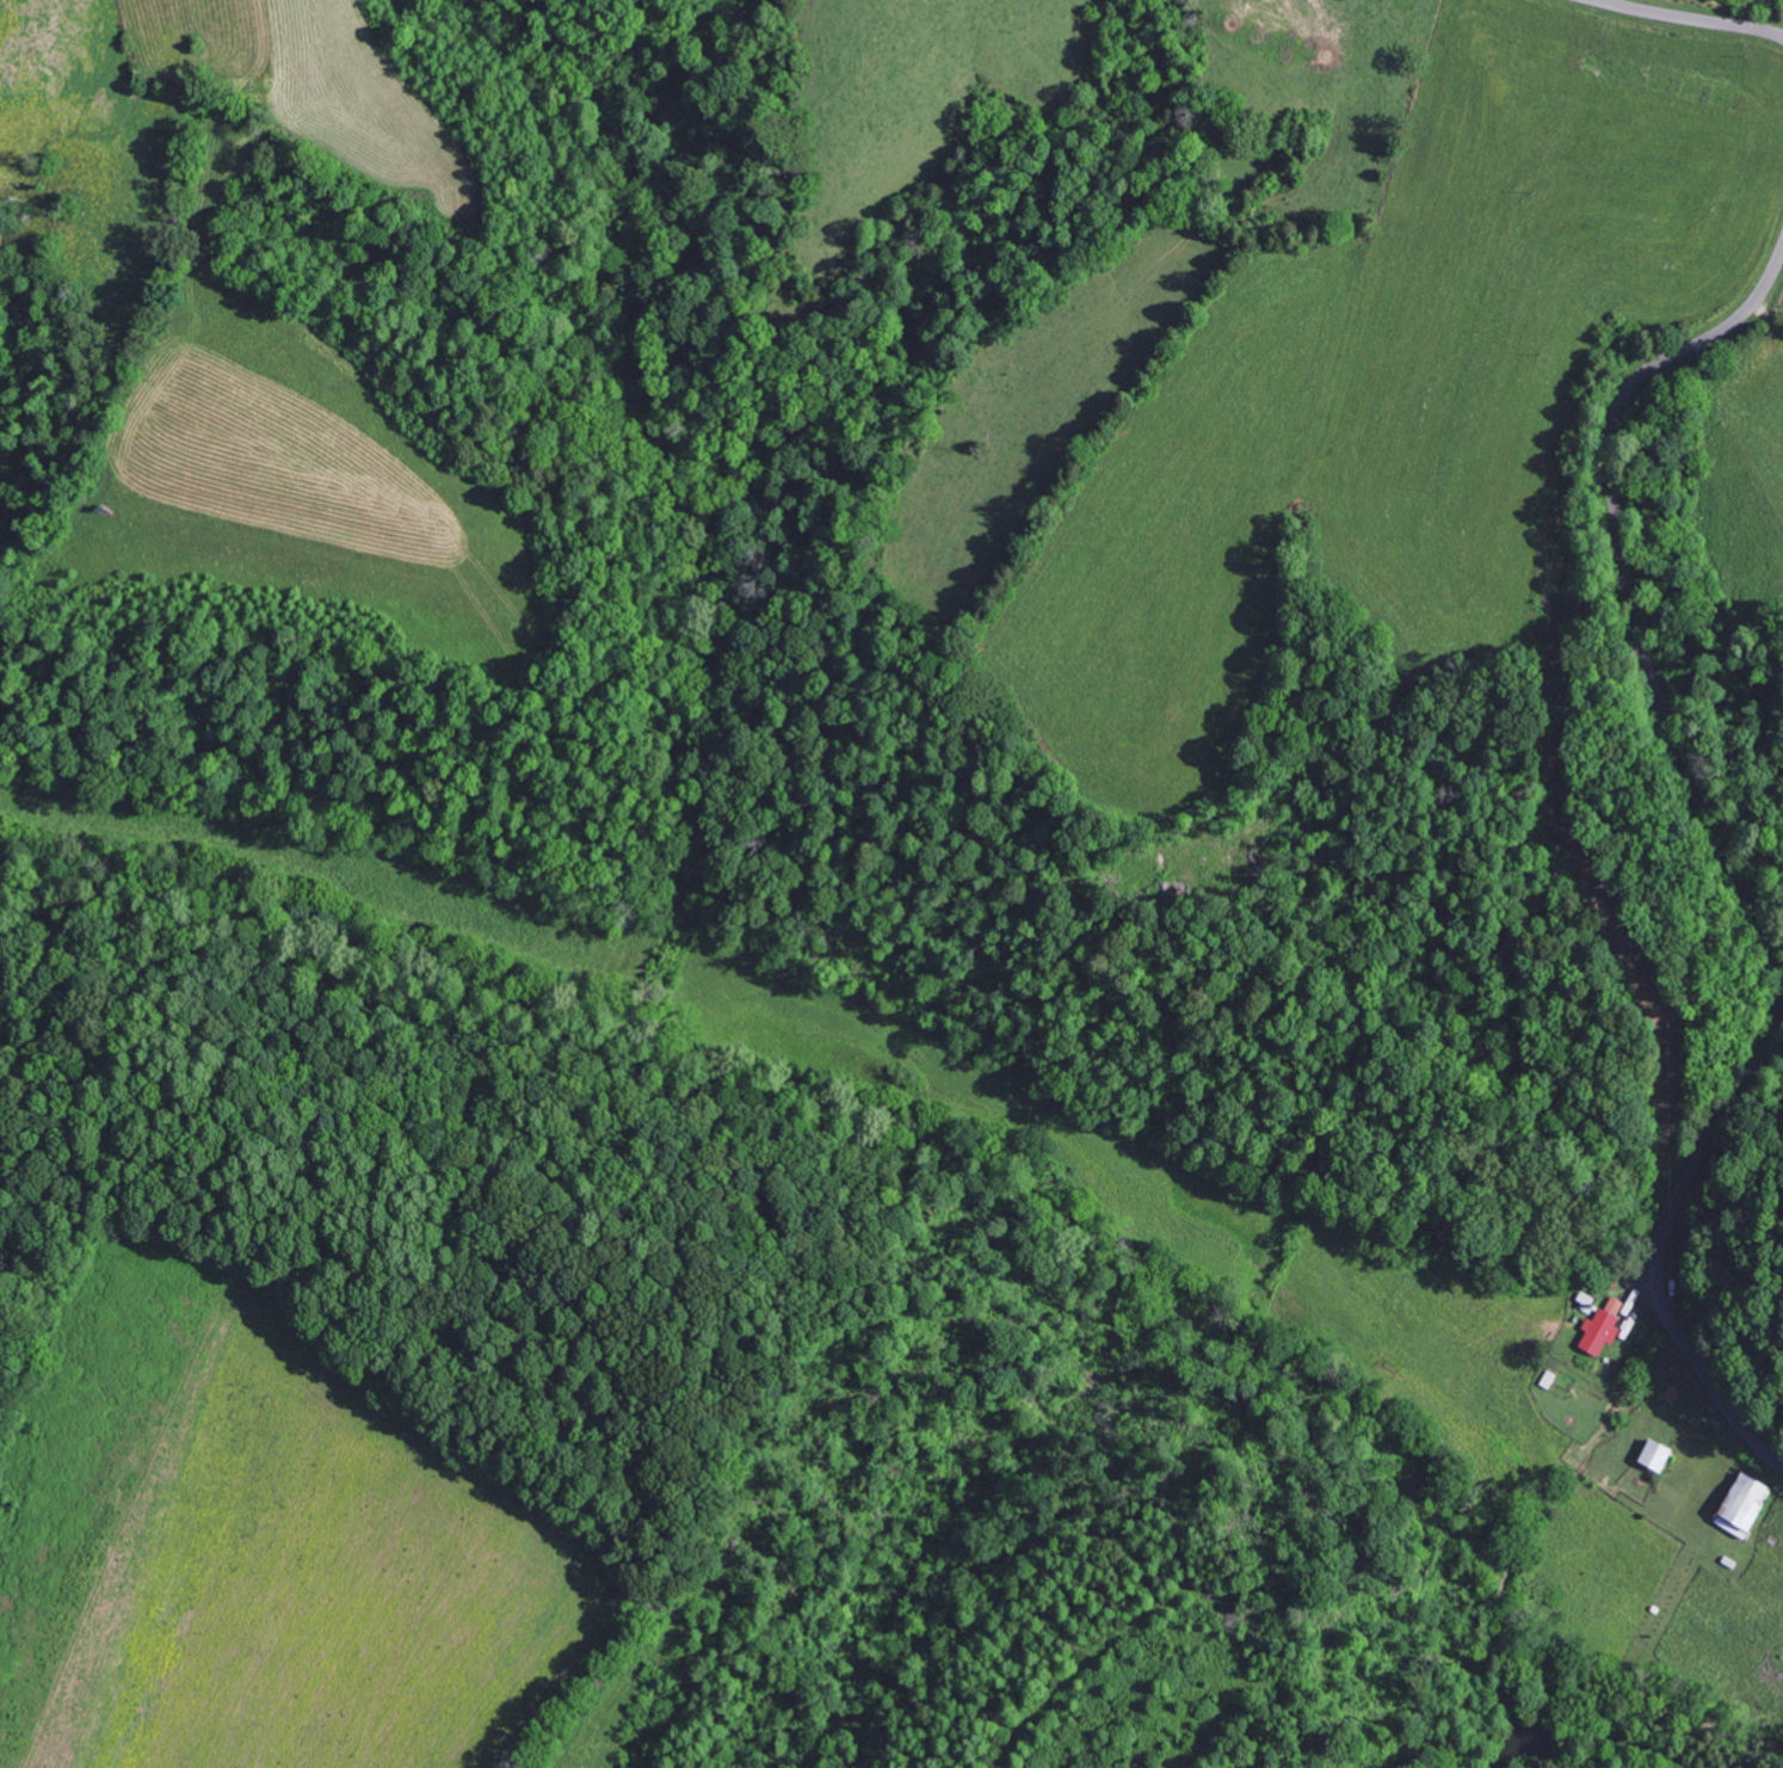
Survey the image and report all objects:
road: (1688, 18)
road: (1733, 850)
building: (1598, 1327)
building: (1651, 1455)
building: (1739, 1505)

